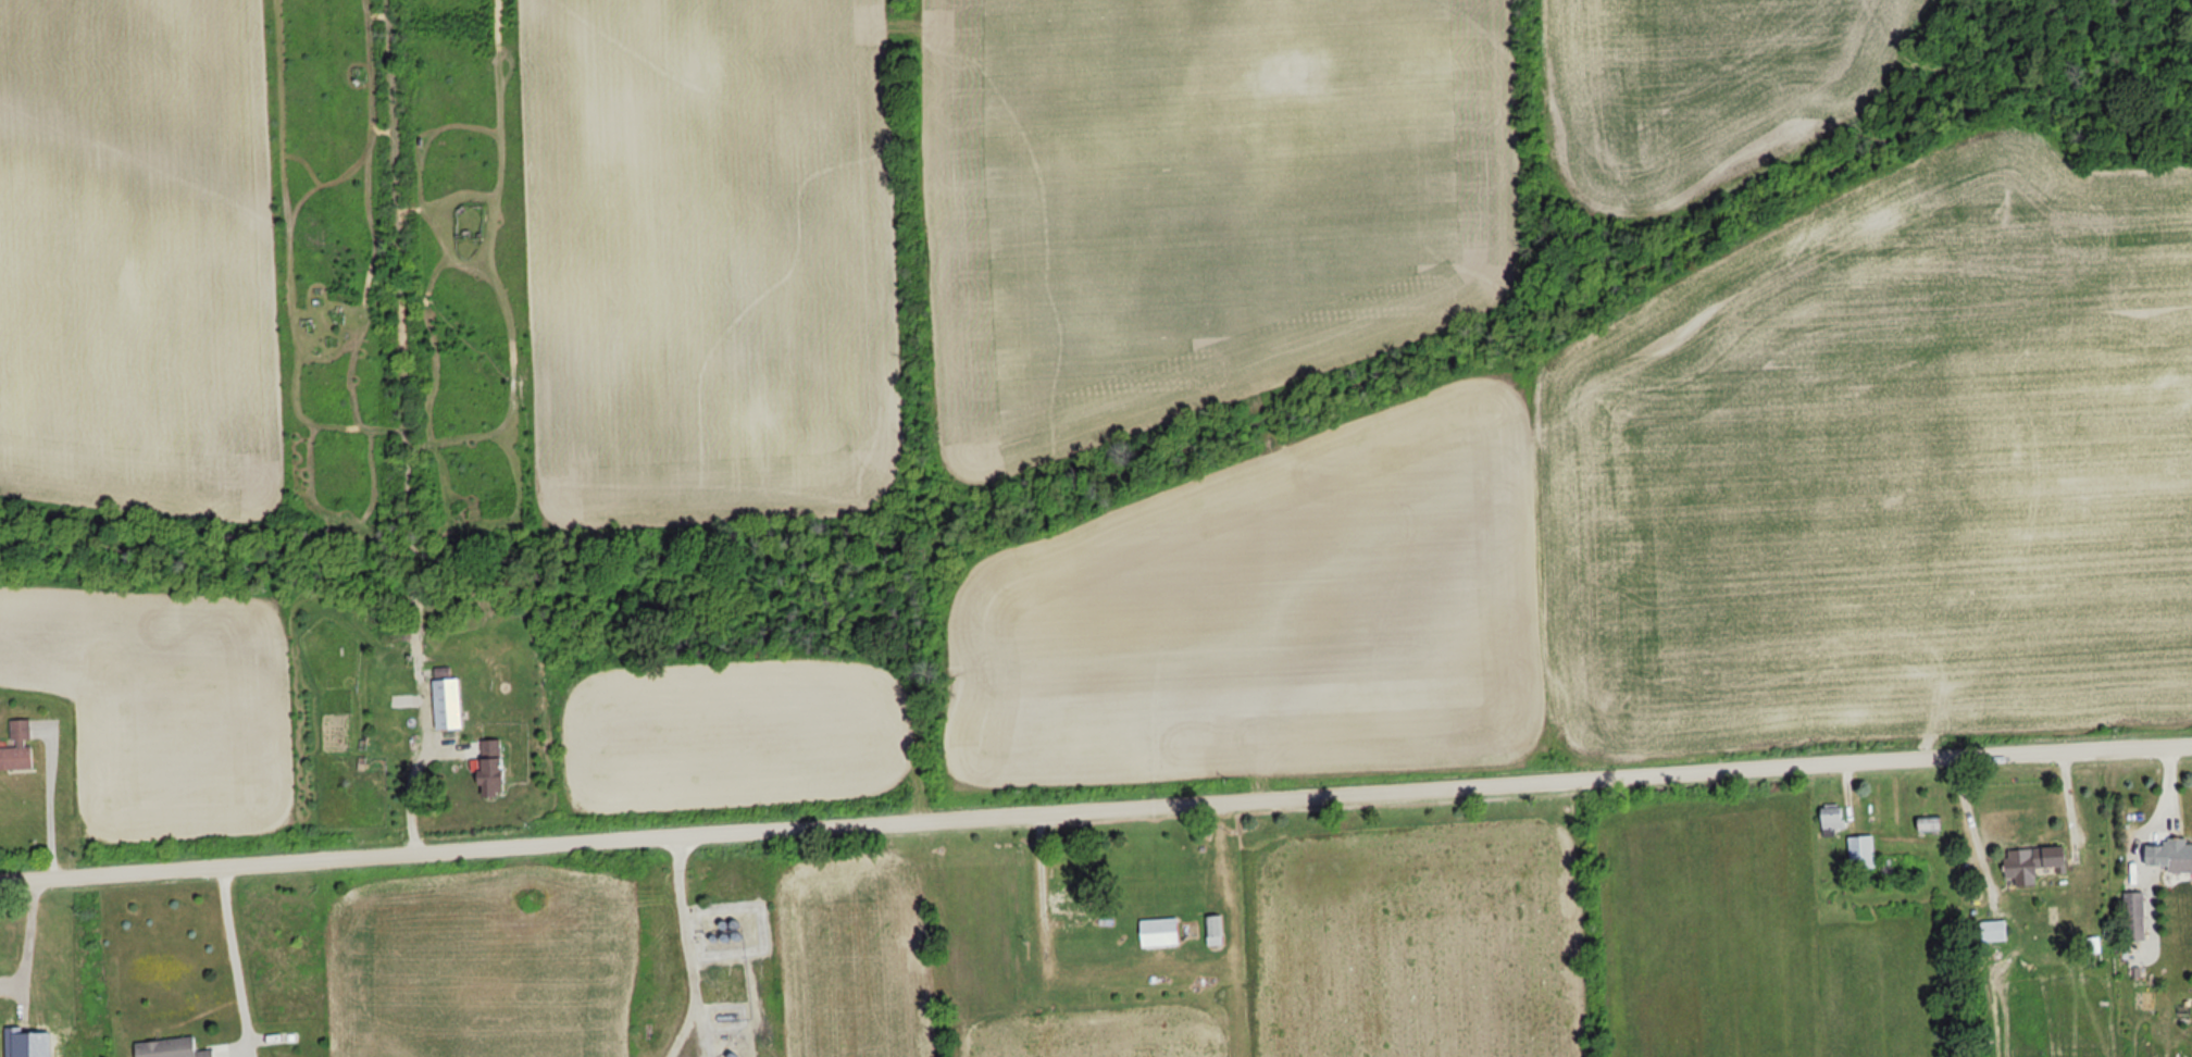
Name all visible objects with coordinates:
building: (447, 702)
building: (17, 746)
building: (489, 768)
road: (1095, 811)
building: (1832, 816)
building: (1928, 822)
building: (1861, 851)
building: (2179, 855)
building: (2051, 856)
building: (2019, 869)
building: (1068, 903)
building: (1215, 929)
building: (1159, 932)
road: (27, 937)
road: (684, 946)
road: (238, 971)
building: (170, 1047)

